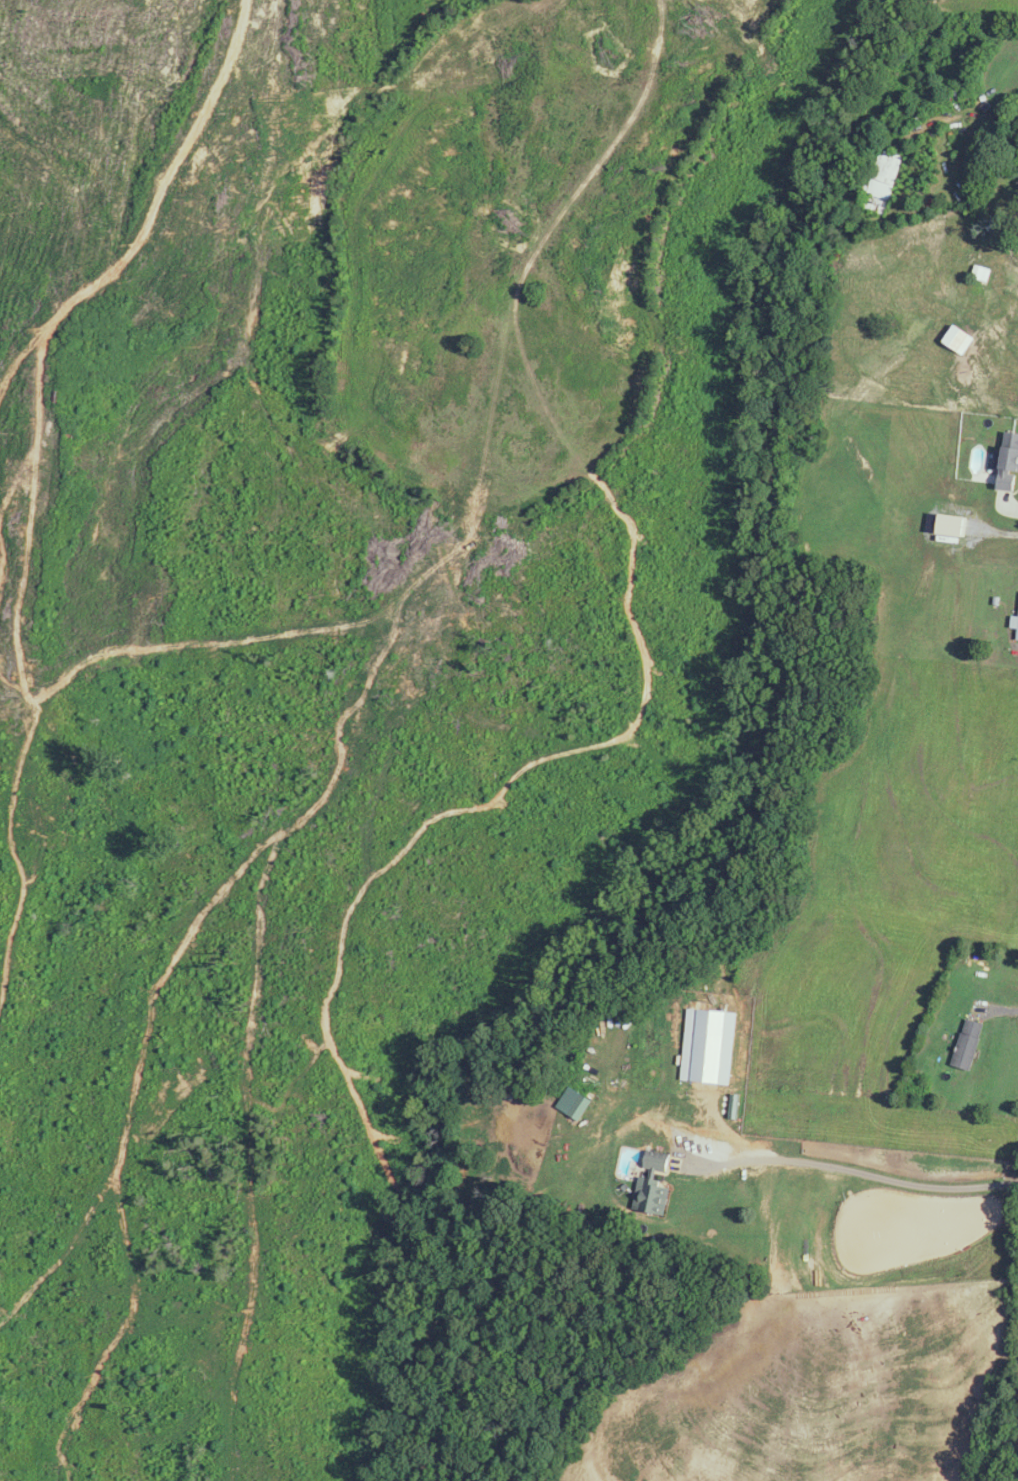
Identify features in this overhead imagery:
building: (881, 185)
building: (959, 341)
building: (1009, 463)
road: (1006, 503)
building: (1015, 623)
building: (1017, 640)
building: (969, 1045)
building: (575, 1104)
building: (657, 1162)
road: (858, 1172)
building: (653, 1197)

